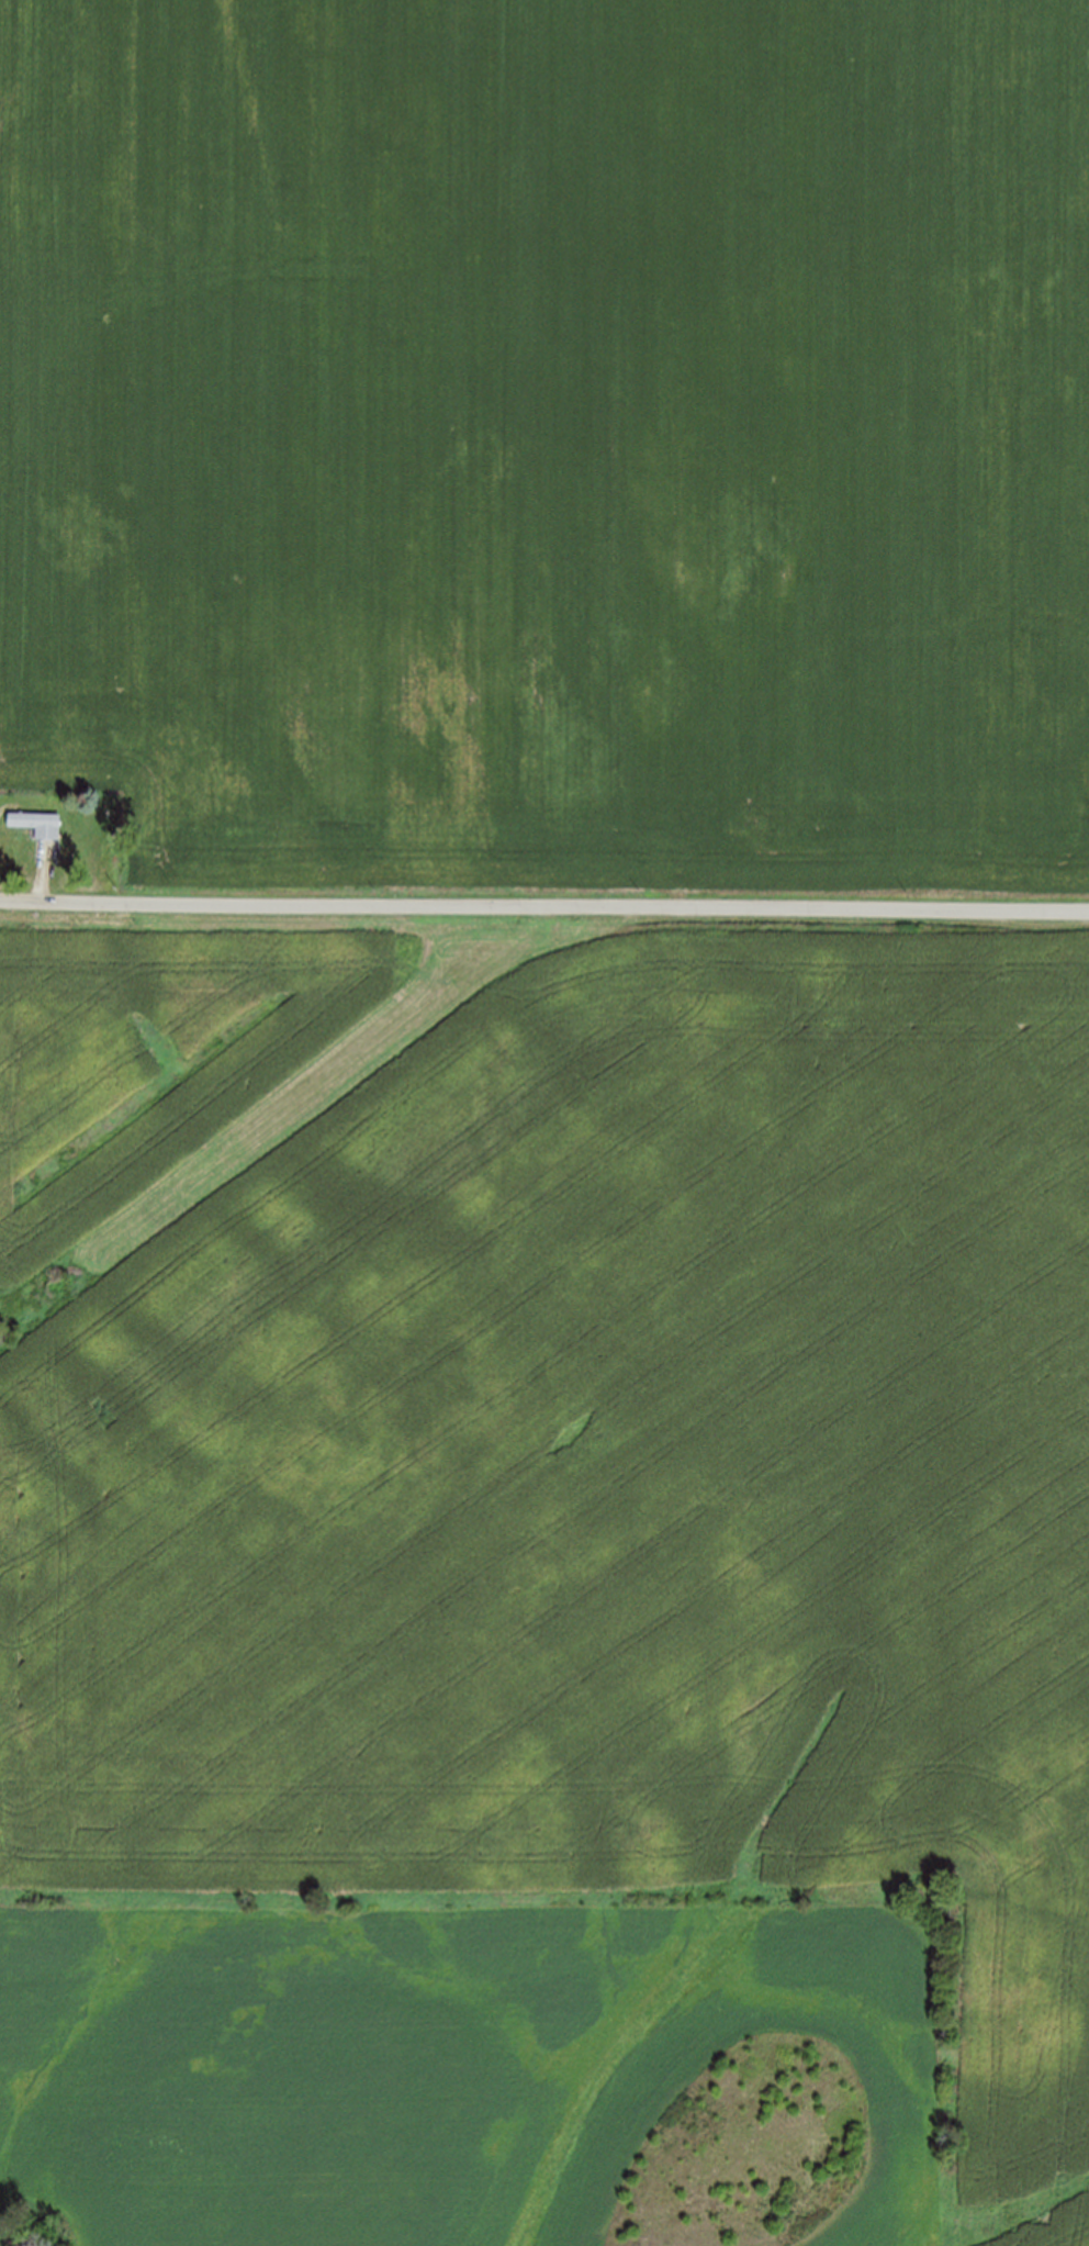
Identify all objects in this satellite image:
building: (38, 823)
road: (543, 906)

